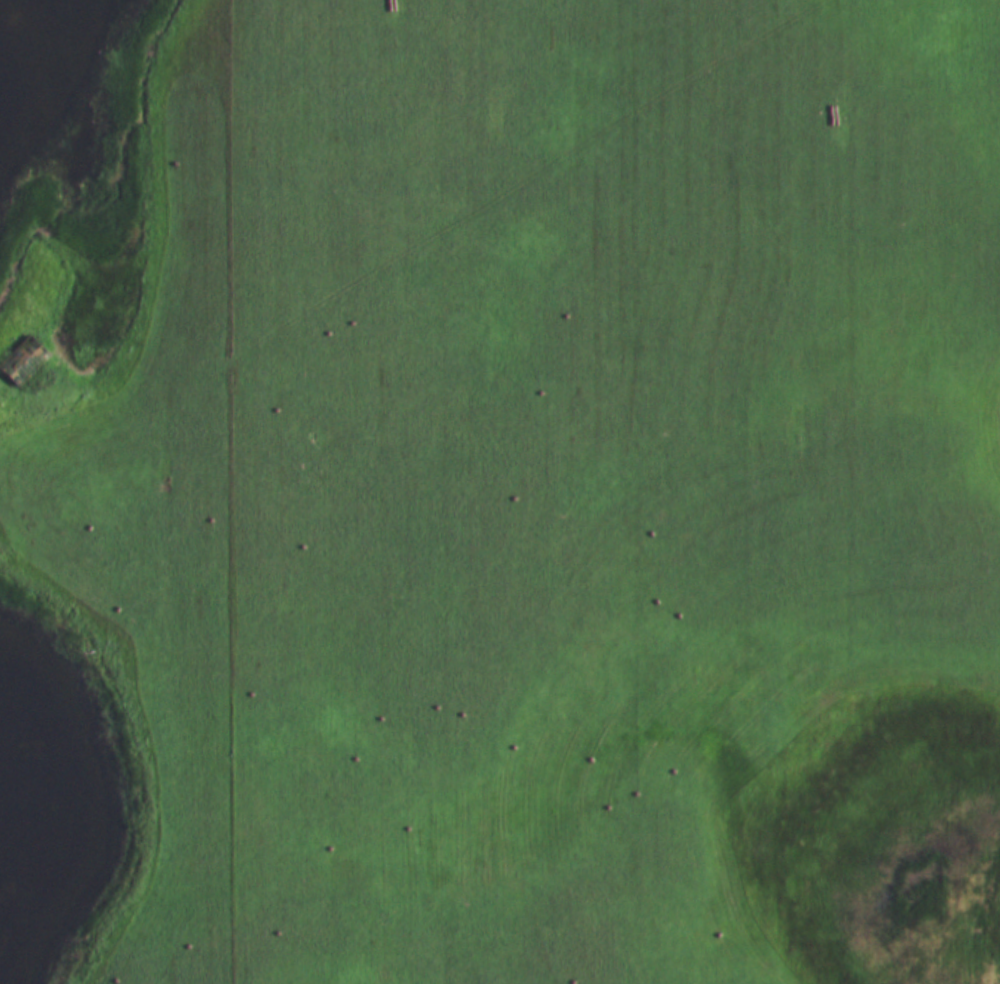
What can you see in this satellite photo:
building: (19, 362)

